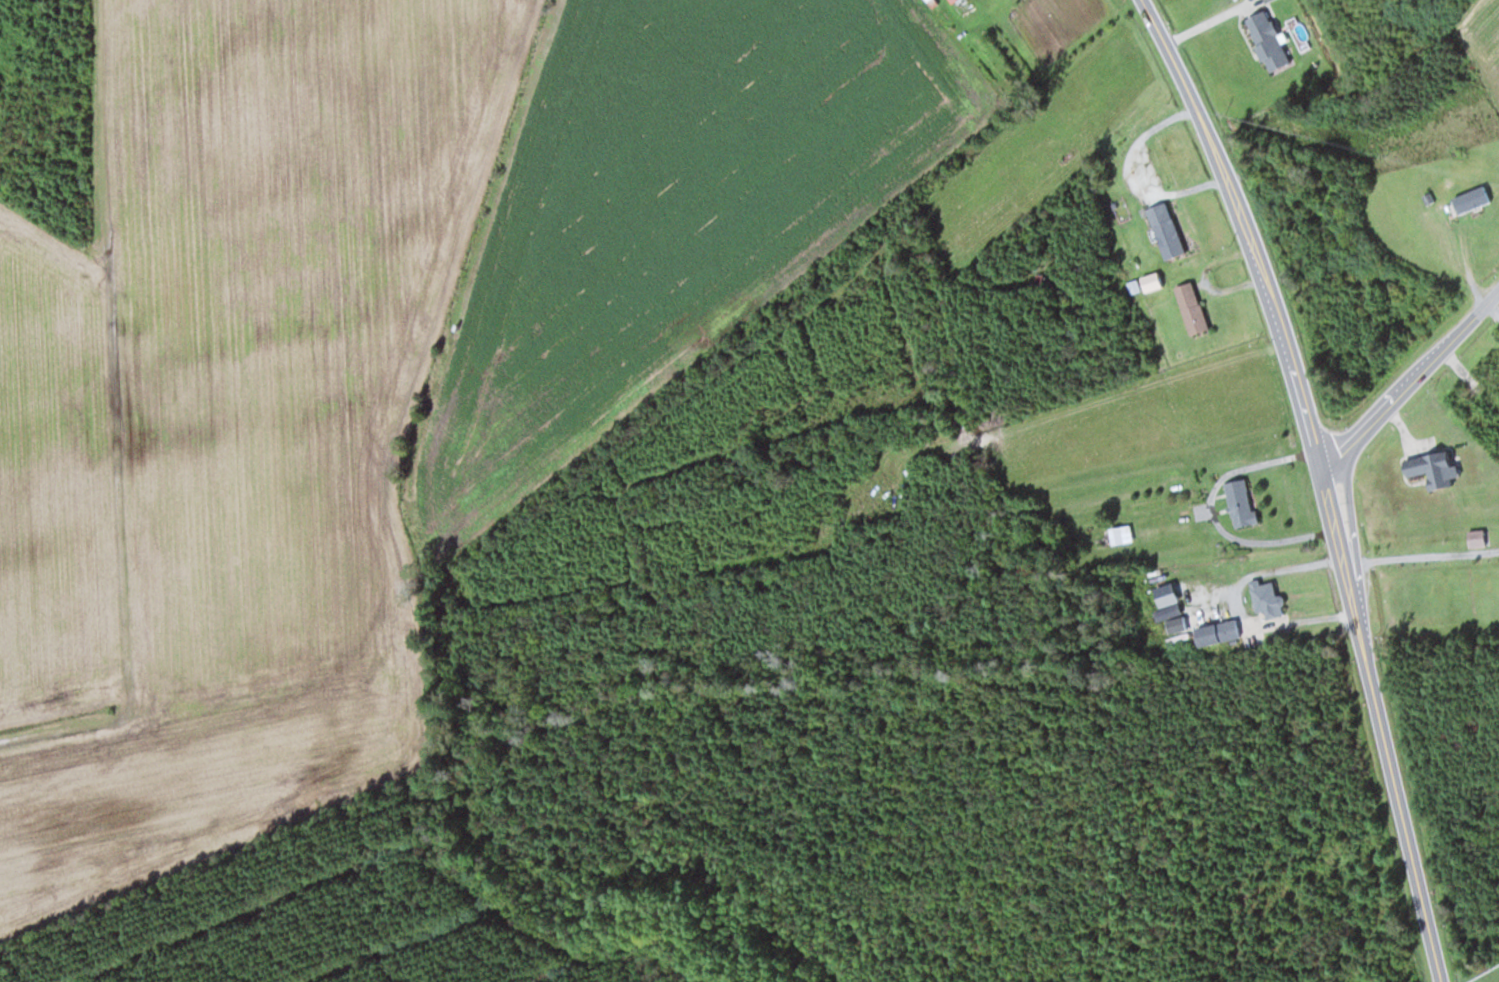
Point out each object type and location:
building: (1263, 40)
building: (1497, 209)
building: (1163, 230)
building: (1154, 284)
building: (1189, 307)
road: (1411, 382)
building: (1488, 404)
road: (1324, 480)
building: (1420, 494)
building: (1147, 502)
building: (1237, 502)
building: (1116, 535)
building: (1439, 577)
building: (1264, 599)
building: (1223, 631)

